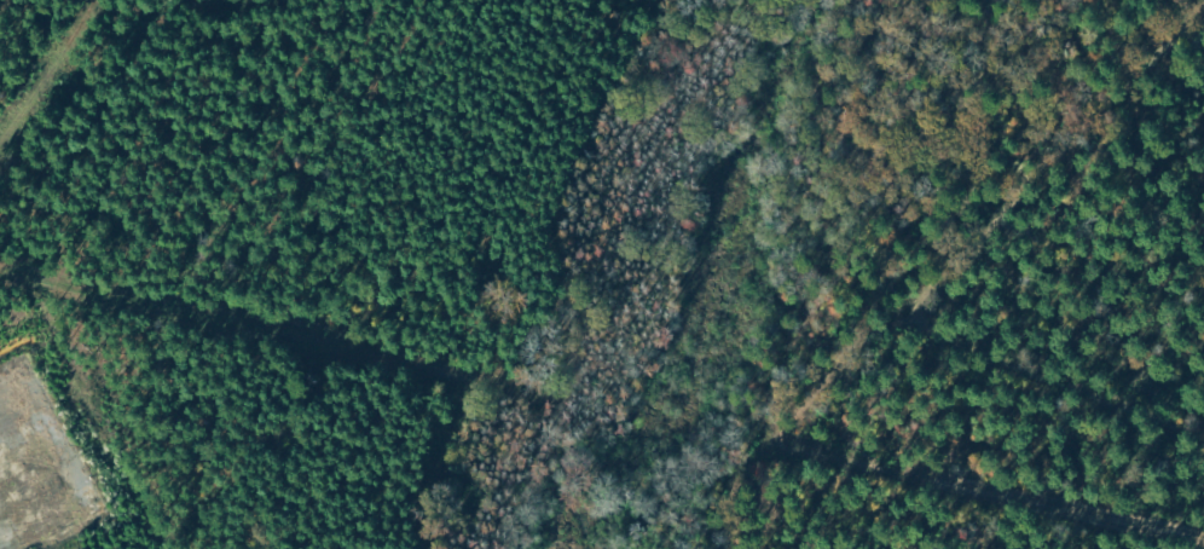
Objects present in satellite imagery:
road: (56, 86)

